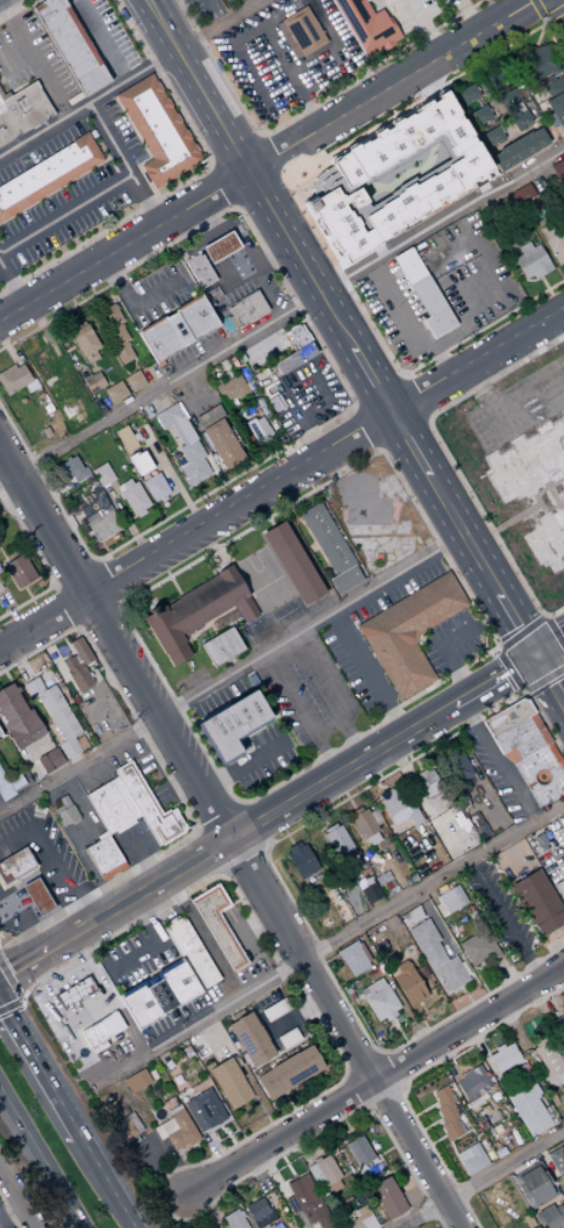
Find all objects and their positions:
road: (562, 4)
road: (16, 7)
parking lot: (206, 9)
road: (537, 9)
road: (553, 13)
road: (469, 17)
road: (543, 22)
road: (218, 24)
building: (366, 24)
road: (427, 28)
building: (303, 30)
road: (99, 40)
building: (70, 44)
road: (495, 51)
road: (34, 60)
building: (540, 61)
building: (496, 77)
building: (554, 86)
road: (270, 94)
building: (468, 94)
building: (508, 97)
road: (89, 103)
road: (311, 104)
building: (556, 109)
road: (303, 111)
building: (22, 112)
building: (480, 114)
building: (522, 119)
building: (158, 130)
building: (492, 135)
building: (519, 148)
road: (234, 149)
road: (270, 160)
road: (124, 164)
building: (557, 170)
building: (47, 174)
building: (397, 176)
road: (187, 181)
road: (218, 188)
road: (64, 213)
building: (553, 238)
building: (220, 247)
building: (531, 260)
gas station: (222, 261)
building: (409, 266)
building: (199, 270)
road: (12, 285)
road: (131, 304)
building: (247, 307)
building: (432, 307)
road: (486, 316)
road: (283, 318)
road: (395, 321)
building: (176, 329)
road: (338, 329)
building: (114, 332)
building: (283, 339)
building: (85, 343)
road: (439, 353)
building: (295, 357)
building: (44, 363)
building: (253, 364)
road: (403, 373)
building: (13, 378)
road: (525, 379)
building: (133, 380)
building: (92, 381)
road: (548, 384)
building: (30, 386)
road: (526, 387)
road: (377, 389)
building: (230, 390)
building: (115, 392)
road: (551, 392)
road: (347, 394)
road: (416, 396)
road: (525, 397)
road: (485, 400)
road: (552, 401)
building: (274, 403)
road: (530, 404)
road: (507, 409)
road: (534, 412)
road: (511, 415)
building: (210, 417)
road: (514, 424)
building: (258, 429)
road: (363, 430)
road: (401, 431)
building: (125, 438)
building: (222, 443)
building: (183, 445)
road: (448, 459)
building: (139, 463)
building: (70, 469)
building: (102, 475)
road: (281, 481)
building: (155, 488)
building: (132, 497)
building: (80, 498)
road: (263, 511)
building: (102, 526)
road: (304, 528)
building: (326, 539)
road: (93, 560)
road: (42, 562)
building: (292, 562)
building: (19, 571)
road: (73, 573)
road: (167, 575)
building: (344, 579)
road: (51, 584)
road: (107, 584)
building: (0, 588)
building: (0, 592)
road: (65, 606)
building: (196, 611)
road: (98, 616)
road: (543, 617)
road: (309, 626)
building: (409, 632)
road: (519, 634)
road: (553, 636)
road: (449, 641)
road: (495, 646)
building: (221, 647)
road: (494, 647)
building: (80, 651)
traffic signals: (534, 657)
road: (511, 669)
building: (76, 673)
road: (366, 674)
road: (543, 680)
road: (548, 683)
road: (524, 694)
road: (329, 696)
building: (55, 714)
road: (300, 714)
building: (17, 717)
building: (233, 723)
road: (435, 731)
building: (0, 734)
building: (526, 749)
building: (451, 756)
building: (49, 760)
road: (497, 760)
road: (78, 764)
road: (243, 765)
road: (374, 768)
building: (460, 769)
road: (406, 777)
road: (450, 780)
building: (427, 782)
road: (383, 783)
road: (341, 787)
building: (5, 788)
road: (171, 788)
road: (239, 803)
road: (312, 804)
building: (110, 807)
building: (148, 807)
building: (399, 807)
road: (495, 807)
road: (281, 808)
building: (64, 811)
road: (216, 817)
road: (279, 824)
building: (364, 824)
road: (250, 827)
building: (329, 827)
road: (320, 828)
road: (229, 839)
road: (289, 839)
building: (372, 839)
building: (337, 841)
road: (207, 850)
road: (264, 850)
road: (437, 853)
building: (103, 856)
road: (241, 860)
building: (301, 860)
road: (49, 862)
building: (15, 865)
gas station: (35, 868)
road: (221, 873)
building: (383, 879)
road: (397, 879)
road: (280, 882)
building: (559, 889)
building: (370, 890)
building: (36, 896)
building: (451, 899)
road: (334, 900)
building: (539, 901)
building: (439, 909)
road: (355, 910)
building: (411, 915)
road: (429, 916)
road: (27, 921)
road: (503, 921)
building: (412, 923)
building: (217, 924)
road: (253, 926)
road: (203, 936)
road: (154, 944)
road: (326, 944)
road: (530, 945)
building: (478, 947)
road: (543, 947)
building: (189, 952)
building: (437, 956)
building: (352, 958)
road: (285, 969)
road: (149, 973)
road: (38, 974)
road: (475, 977)
road: (508, 977)
road: (7, 981)
building: (406, 983)
building: (371, 988)
building: (78, 991)
road: (466, 995)
road: (19, 996)
building: (159, 996)
road: (8, 1000)
building: (382, 1003)
road: (540, 1005)
road: (554, 1005)
road: (85, 1011)
building: (275, 1011)
road: (52, 1013)
road: (294, 1015)
gas station: (86, 1018)
road: (257, 1022)
building: (560, 1024)
road: (512, 1026)
building: (102, 1030)
road: (415, 1030)
road: (400, 1035)
building: (109, 1039)
building: (287, 1039)
building: (251, 1040)
building: (539, 1042)
building: (98, 1047)
building: (199, 1048)
road: (480, 1049)
road: (283, 1051)
road: (377, 1056)
building: (503, 1058)
road: (446, 1062)
building: (549, 1064)
road: (364, 1068)
road: (38, 1071)
building: (289, 1073)
road: (386, 1073)
building: (519, 1074)
building: (152, 1075)
road: (347, 1075)
road: (411, 1075)
road: (372, 1079)
building: (136, 1081)
building: (473, 1082)
building: (229, 1083)
road: (314, 1086)
road: (398, 1087)
road: (359, 1088)
road: (251, 1091)
road: (381, 1094)
building: (562, 1098)
road: (287, 1103)
road: (431, 1105)
road: (366, 1107)
building: (528, 1108)
building: (204, 1110)
building: (109, 1111)
building: (125, 1111)
building: (446, 1113)
road: (415, 1115)
road: (463, 1120)
road: (437, 1121)
road: (347, 1128)
road: (423, 1128)
building: (127, 1130)
building: (181, 1131)
road: (319, 1131)
road: (443, 1136)
road: (432, 1143)
road: (297, 1148)
road: (215, 1149)
building: (358, 1150)
road: (387, 1150)
building: (315, 1160)
building: (472, 1160)
road: (545, 1160)
building: (557, 1160)
road: (36, 1165)
building: (370, 1167)
road: (159, 1170)
road: (257, 1172)
building: (323, 1172)
building: (292, 1178)
road: (401, 1179)
road: (482, 1179)
road: (103, 1183)
building: (563, 1185)
building: (534, 1187)
road: (245, 1190)
building: (301, 1192)
building: (387, 1198)
road: (16, 1199)
building: (291, 1205)
road: (209, 1206)
building: (256, 1210)
road: (10, 1212)
road: (8, 1213)
building: (317, 1215)
building: (551, 1217)
building: (360, 1218)
building: (234, 1219)
building: (264, 1219)
road: (196, 1222)
building: (269, 1227)

